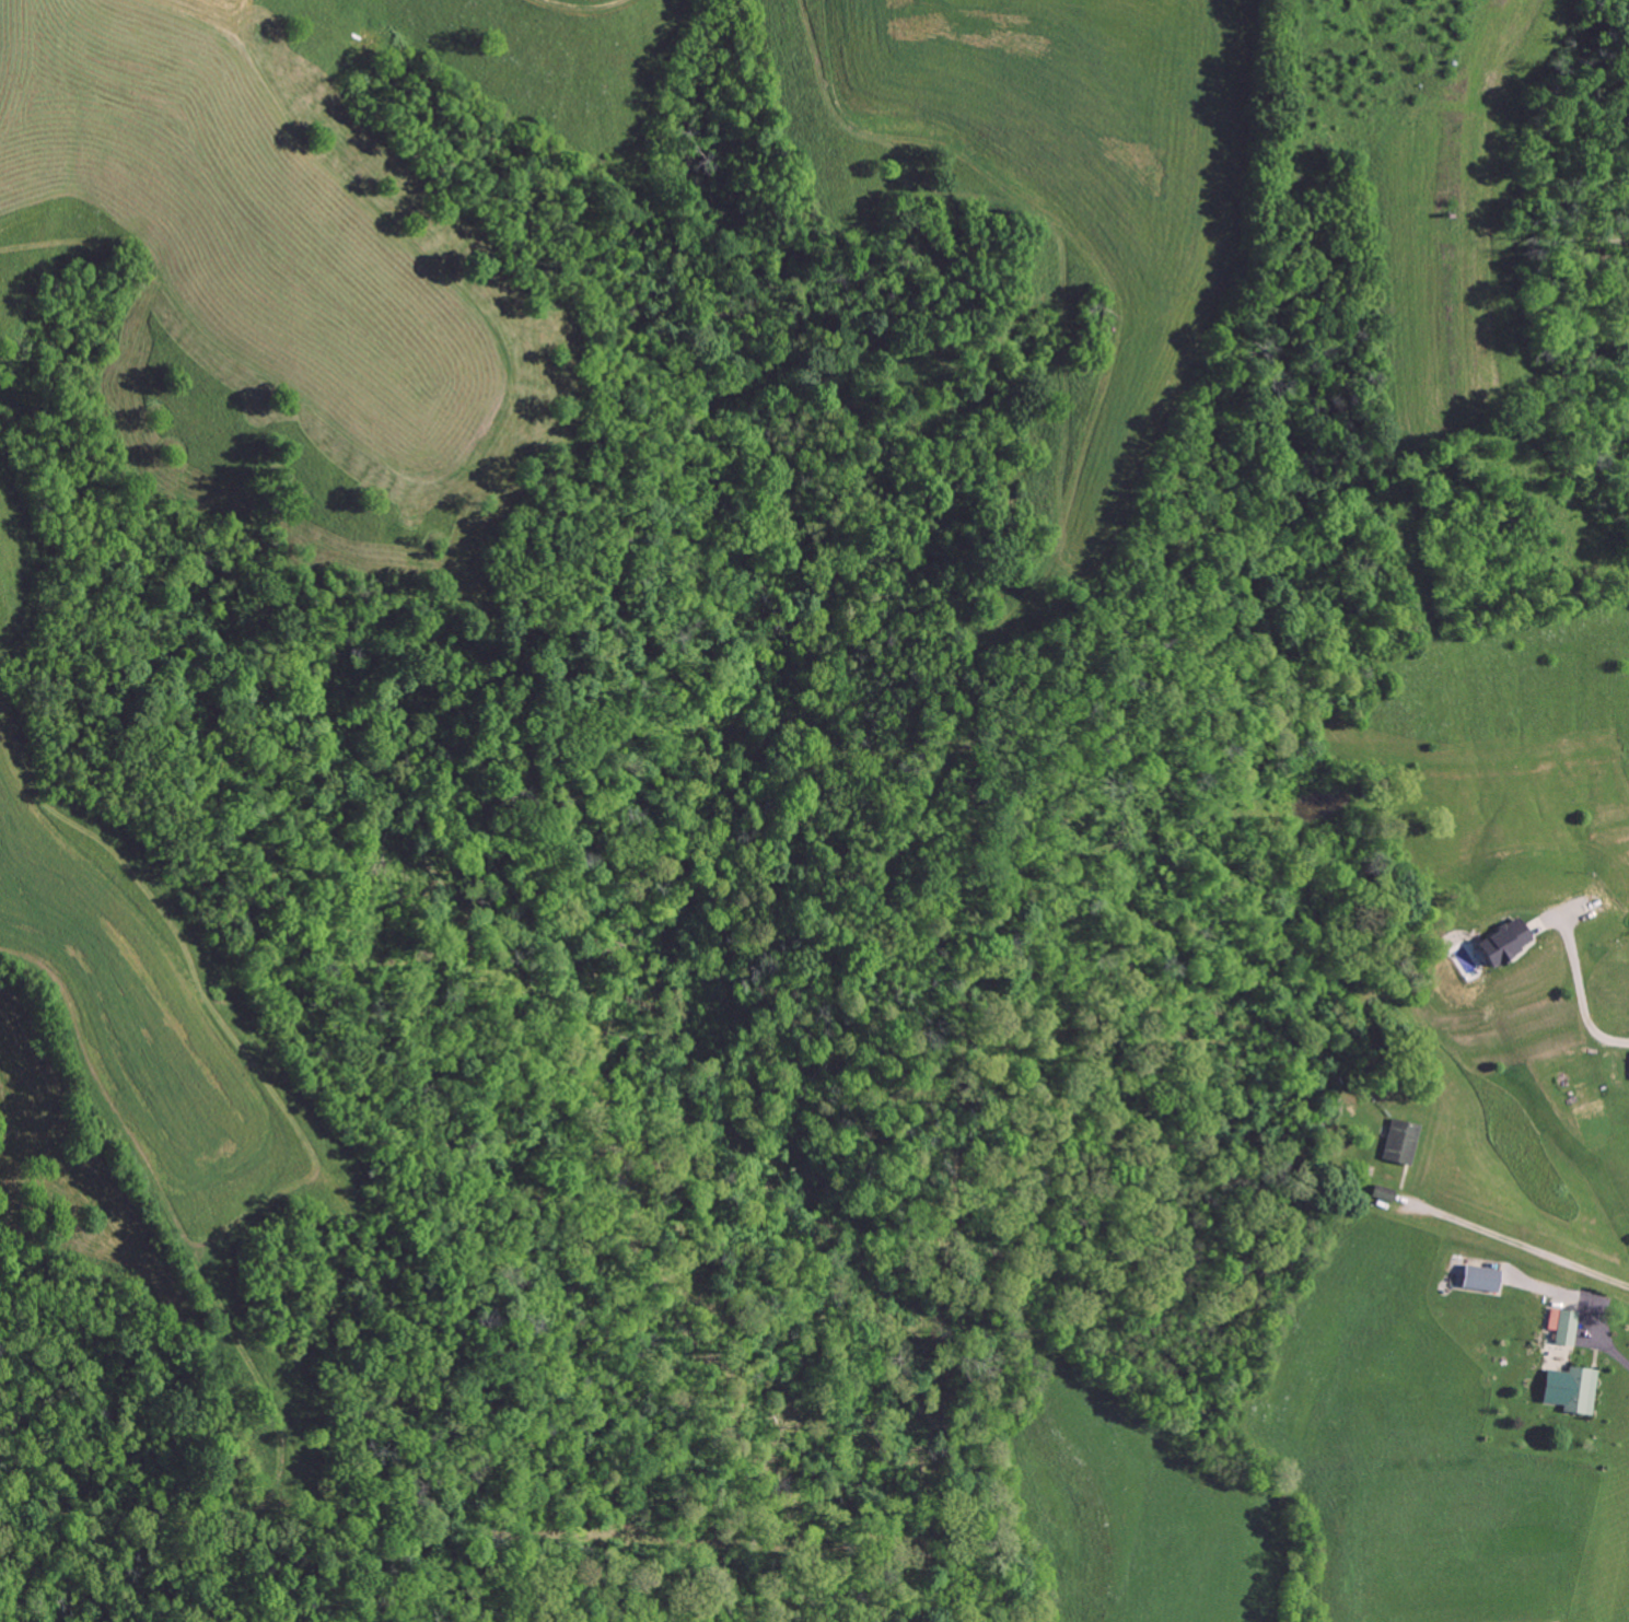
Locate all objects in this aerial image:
building: (1504, 942)
road: (1581, 997)
building: (1400, 1142)
building: (1383, 1192)
road: (1510, 1240)
building: (1481, 1277)
road: (1584, 1296)
building: (1564, 1327)
building: (1582, 1392)

